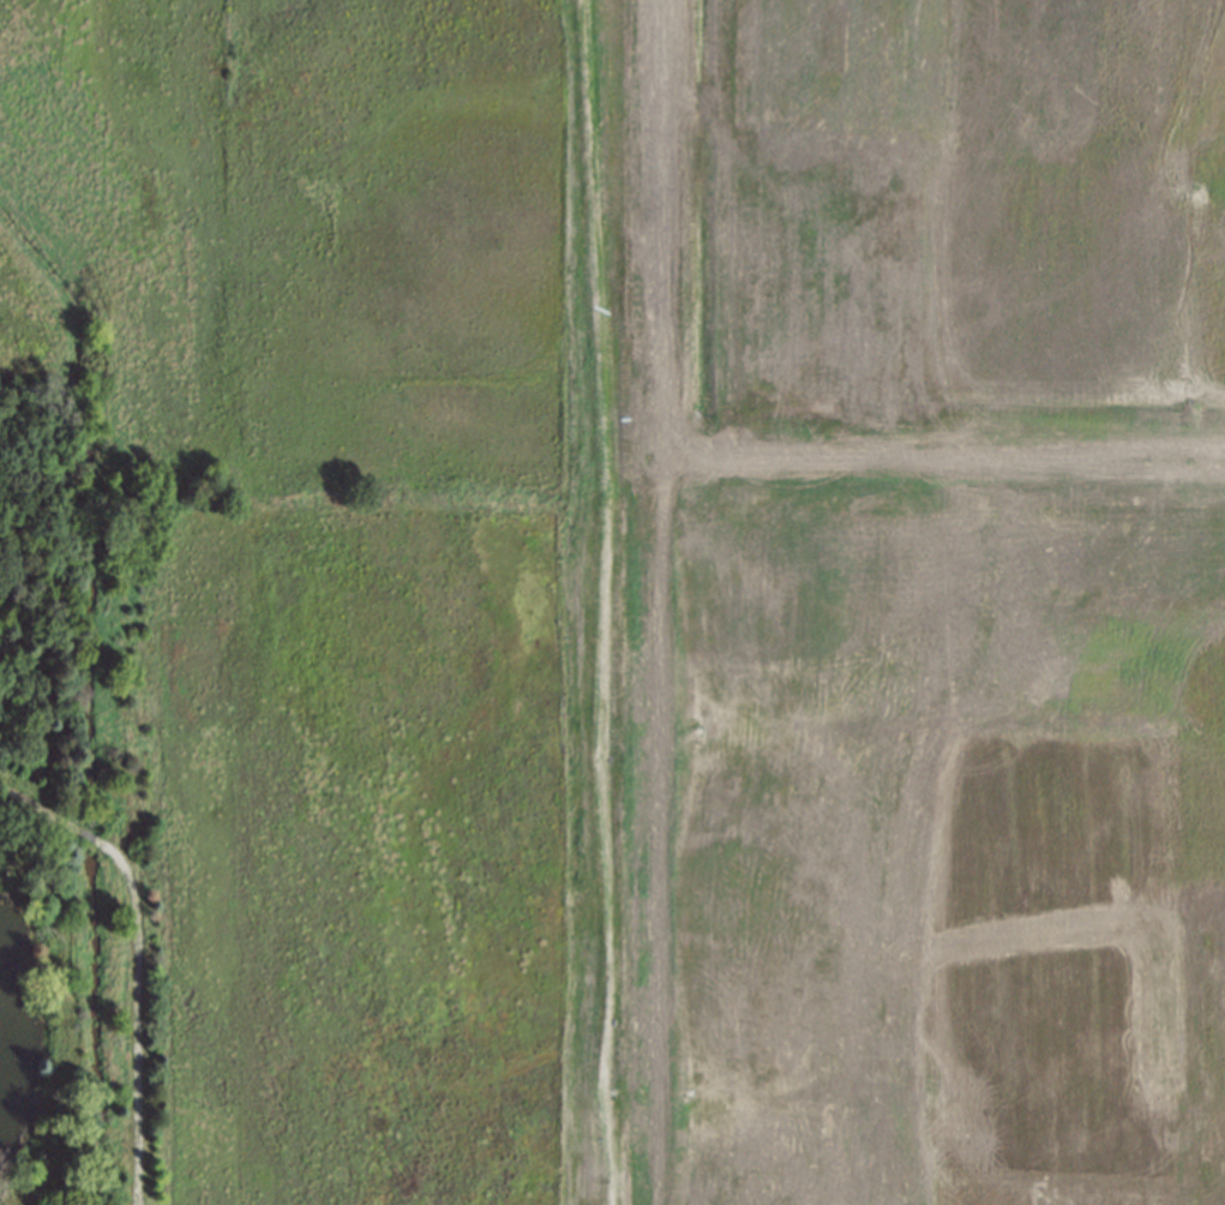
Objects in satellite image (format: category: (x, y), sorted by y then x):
road: (133, 961)

